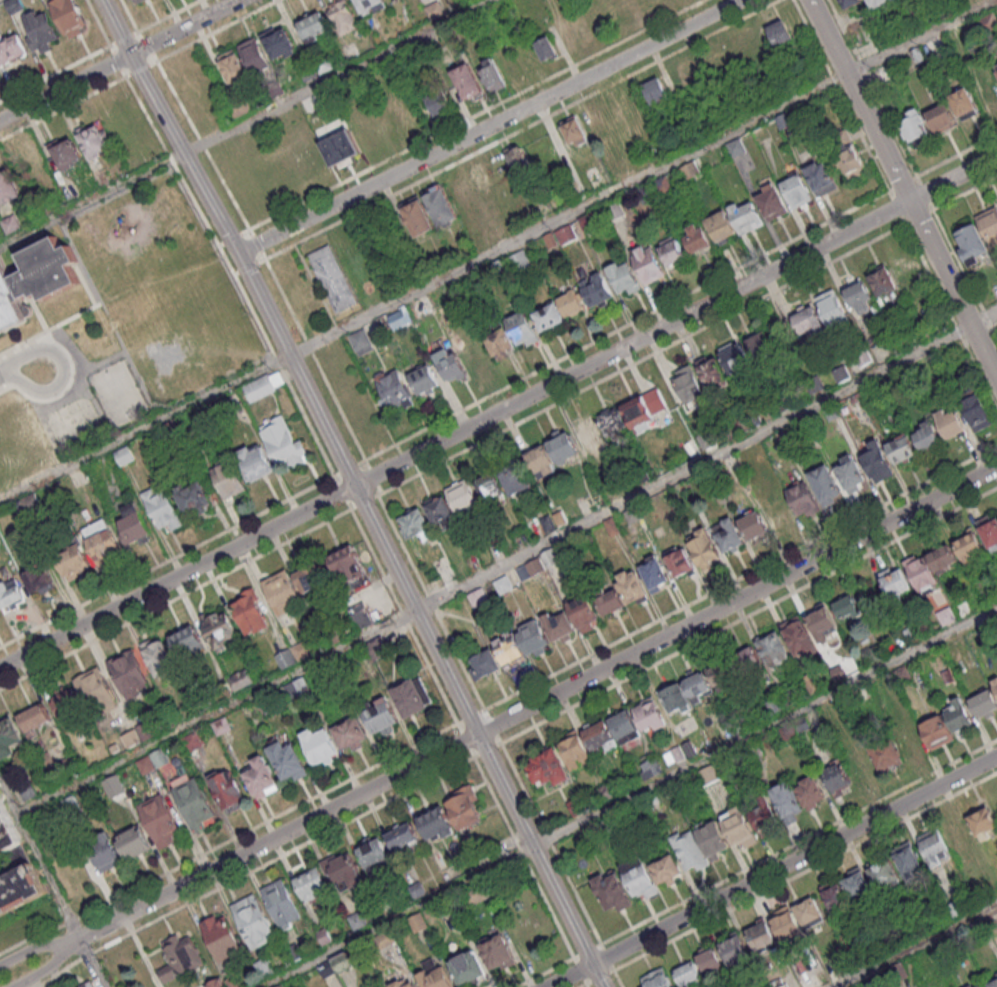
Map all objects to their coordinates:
building: (136, 1)
building: (849, 3)
building: (876, 3)
building: (370, 4)
building: (16, 5)
building: (435, 10)
building: (343, 15)
building: (71, 17)
building: (316, 25)
road: (121, 27)
road: (188, 27)
building: (42, 29)
building: (780, 31)
building: (281, 42)
building: (547, 47)
building: (12, 48)
building: (256, 55)
building: (234, 65)
building: (996, 66)
building: (0, 71)
building: (493, 78)
building: (468, 80)
road: (67, 88)
building: (988, 88)
building: (656, 90)
road: (840, 94)
building: (439, 101)
building: (964, 103)
road: (63, 107)
road: (148, 115)
building: (941, 118)
building: (594, 119)
road: (245, 123)
road: (489, 125)
building: (912, 125)
building: (575, 129)
road: (515, 130)
building: (95, 138)
building: (735, 146)
building: (341, 149)
building: (69, 154)
building: (519, 158)
road: (172, 159)
road: (191, 160)
building: (850, 163)
building: (689, 169)
building: (474, 177)
building: (822, 180)
building: (8, 187)
road: (904, 188)
building: (796, 189)
road: (950, 199)
building: (771, 202)
building: (440, 206)
building: (417, 215)
building: (746, 218)
building: (720, 224)
road: (245, 230)
road: (250, 231)
building: (560, 236)
building: (978, 236)
building: (696, 237)
road: (232, 238)
road: (256, 242)
road: (221, 243)
building: (671, 249)
road: (496, 250)
road: (262, 254)
road: (225, 258)
road: (80, 259)
building: (518, 260)
road: (252, 264)
building: (649, 266)
road: (243, 269)
road: (235, 271)
building: (623, 277)
building: (35, 278)
building: (332, 278)
building: (883, 281)
building: (596, 290)
building: (859, 296)
building: (571, 303)
building: (833, 308)
road: (733, 310)
park: (148, 316)
building: (548, 316)
building: (397, 319)
building: (808, 320)
road: (626, 324)
road: (51, 327)
building: (522, 329)
building: (361, 341)
building: (499, 341)
building: (762, 346)
building: (474, 354)
road: (314, 358)
building: (736, 359)
building: (451, 366)
road: (23, 370)
building: (712, 373)
building: (424, 379)
road: (214, 382)
building: (688, 385)
road: (66, 386)
building: (259, 387)
building: (393, 388)
building: (643, 410)
road: (498, 411)
building: (978, 415)
building: (612, 421)
building: (949, 422)
building: (587, 432)
building: (926, 435)
building: (283, 442)
building: (563, 446)
building: (900, 447)
building: (125, 456)
building: (255, 461)
building: (540, 461)
building: (878, 464)
building: (850, 473)
building: (514, 477)
building: (227, 478)
building: (824, 482)
building: (461, 494)
building: (801, 497)
road: (362, 500)
building: (177, 505)
building: (777, 510)
building: (440, 511)
building: (414, 523)
building: (752, 523)
building: (134, 525)
building: (990, 533)
building: (728, 536)
building: (968, 544)
building: (704, 546)
building: (105, 548)
road: (507, 561)
building: (75, 562)
building: (679, 562)
building: (347, 564)
building: (535, 567)
building: (920, 572)
building: (654, 573)
road: (740, 576)
building: (40, 580)
building: (894, 582)
building: (631, 586)
building: (291, 589)
building: (11, 594)
road: (174, 597)
building: (478, 597)
building: (609, 599)
road: (430, 601)
building: (846, 607)
building: (585, 611)
building: (250, 612)
road: (748, 613)
road: (402, 614)
building: (822, 622)
road: (427, 626)
building: (559, 626)
building: (220, 628)
building: (797, 635)
building: (534, 637)
building: (188, 641)
building: (772, 646)
building: (376, 647)
building: (510, 653)
building: (160, 656)
building: (285, 658)
building: (749, 660)
building: (484, 664)
building: (130, 674)
building: (722, 674)
building: (240, 679)
building: (995, 684)
building: (698, 687)
building: (412, 696)
building: (87, 697)
building: (675, 698)
road: (538, 701)
building: (984, 704)
building: (649, 714)
road: (469, 715)
building: (381, 716)
building: (36, 719)
building: (946, 724)
road: (491, 725)
building: (623, 725)
building: (350, 732)
building: (9, 737)
road: (464, 738)
building: (908, 739)
building: (320, 745)
road: (486, 748)
building: (575, 750)
building: (873, 757)
building: (288, 761)
building: (547, 767)
building: (650, 767)
building: (708, 774)
building: (261, 777)
building: (837, 779)
building: (227, 789)
road: (626, 796)
building: (798, 796)
building: (195, 804)
building: (464, 807)
building: (763, 814)
building: (161, 822)
building: (435, 822)
building: (983, 823)
building: (738, 827)
building: (7, 829)
building: (402, 836)
building: (712, 838)
road: (228, 839)
building: (944, 841)
road: (549, 842)
building: (134, 843)
building: (688, 851)
building: (106, 854)
building: (374, 854)
road: (522, 855)
building: (908, 860)
road: (250, 868)
building: (666, 870)
building: (344, 871)
road: (771, 871)
building: (884, 875)
building: (639, 878)
road: (52, 881)
building: (312, 885)
building: (20, 890)
building: (611, 891)
building: (847, 891)
building: (281, 904)
building: (796, 916)
building: (254, 921)
building: (417, 922)
building: (221, 935)
building: (762, 935)
road: (915, 945)
road: (38, 947)
building: (734, 948)
building: (497, 953)
building: (180, 957)
building: (709, 961)
road: (50, 967)
building: (467, 967)
building: (434, 974)
building: (688, 975)
building: (656, 979)
building: (810, 981)
building: (404, 983)
building: (993, 984)
building: (89, 985)
building: (979, 985)

